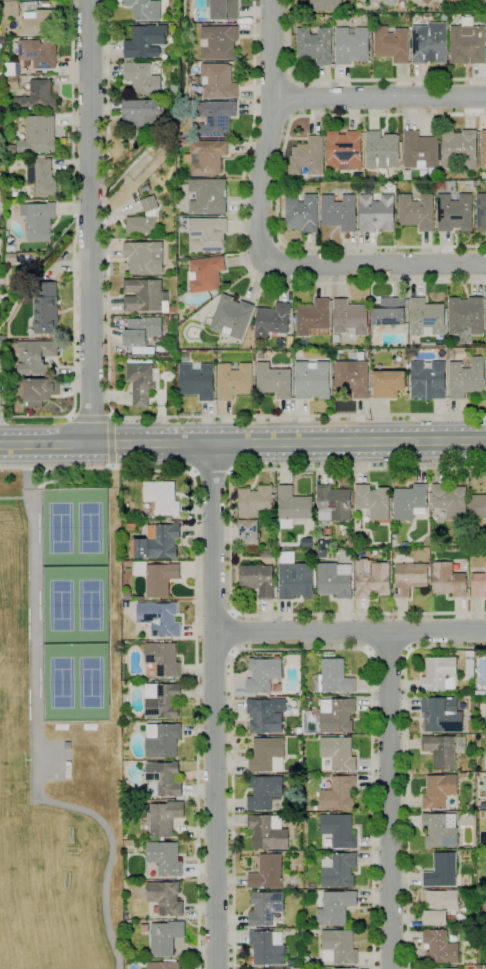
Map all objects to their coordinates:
building: (426, 1)
building: (389, 2)
building: (0, 4)
building: (400, 4)
building: (325, 5)
building: (11, 9)
building: (145, 9)
building: (224, 10)
building: (38, 23)
building: (145, 41)
building: (218, 42)
building: (429, 43)
building: (391, 44)
building: (467, 44)
building: (315, 45)
building: (352, 45)
building: (38, 53)
building: (12, 69)
building: (38, 73)
building: (142, 78)
road: (273, 79)
road: (349, 80)
building: (219, 81)
building: (12, 82)
building: (174, 88)
building: (36, 97)
road: (380, 97)
road: (292, 98)
road: (273, 114)
building: (140, 116)
building: (216, 118)
road: (267, 132)
building: (38, 135)
building: (459, 148)
building: (483, 149)
building: (382, 150)
building: (344, 151)
building: (420, 151)
building: (308, 156)
building: (206, 157)
building: (41, 178)
road: (278, 186)
building: (144, 189)
building: (208, 196)
building: (149, 204)
building: (339, 212)
building: (417, 212)
building: (454, 212)
building: (481, 212)
building: (301, 213)
building: (377, 213)
building: (38, 220)
road: (90, 221)
building: (141, 224)
building: (207, 234)
road: (74, 244)
building: (11, 248)
road: (241, 256)
building: (144, 257)
building: (11, 258)
building: (30, 259)
road: (376, 263)
building: (205, 274)
building: (146, 296)
building: (46, 309)
building: (20, 311)
building: (389, 312)
building: (195, 315)
building: (465, 315)
building: (231, 317)
building: (349, 318)
building: (426, 318)
building: (313, 319)
building: (272, 320)
building: (168, 330)
building: (141, 331)
building: (336, 338)
building: (3, 340)
building: (165, 349)
building: (35, 356)
building: (466, 377)
building: (352, 378)
building: (234, 380)
building: (313, 380)
building: (197, 381)
building: (274, 381)
building: (428, 381)
building: (142, 383)
building: (388, 383)
building: (0, 388)
building: (38, 392)
road: (108, 394)
road: (91, 414)
road: (110, 439)
road: (242, 442)
road: (25, 456)
road: (212, 474)
road: (26, 483)
road: (14, 498)
building: (160, 499)
building: (450, 500)
building: (373, 501)
building: (410, 502)
building: (333, 503)
building: (292, 506)
building: (478, 506)
building: (252, 512)
building: (130, 527)
park: (59, 528)
park: (89, 529)
road: (230, 541)
building: (156, 542)
building: (306, 542)
building: (323, 543)
building: (404, 544)
building: (399, 551)
building: (324, 553)
building: (268, 554)
building: (157, 577)
building: (409, 578)
building: (371, 579)
building: (257, 580)
building: (295, 580)
building: (334, 580)
building: (447, 580)
building: (478, 585)
park: (61, 606)
park: (89, 606)
road: (232, 613)
road: (402, 614)
road: (363, 615)
building: (162, 619)
road: (195, 625)
road: (197, 629)
road: (350, 631)
road: (231, 632)
road: (388, 648)
road: (408, 649)
road: (301, 650)
road: (368, 651)
road: (232, 652)
building: (477, 654)
building: (163, 658)
road: (198, 669)
building: (469, 669)
building: (150, 672)
building: (263, 674)
building: (439, 674)
building: (333, 677)
park: (61, 683)
park: (89, 684)
building: (452, 694)
building: (125, 697)
building: (162, 700)
road: (215, 705)
building: (441, 714)
building: (266, 715)
building: (336, 715)
building: (286, 730)
building: (304, 737)
building: (162, 740)
building: (125, 744)
building: (442, 751)
building: (338, 753)
building: (267, 754)
road: (37, 758)
building: (485, 763)
road: (405, 771)
building: (163, 779)
building: (482, 785)
building: (438, 791)
building: (264, 792)
building: (339, 794)
road: (389, 799)
building: (483, 806)
building: (164, 818)
building: (339, 830)
building: (440, 830)
building: (267, 832)
building: (124, 842)
building: (164, 858)
building: (338, 869)
building: (441, 871)
building: (267, 872)
building: (311, 886)
building: (165, 898)
building: (333, 906)
building: (439, 906)
building: (265, 908)
building: (165, 937)
building: (267, 947)
building: (339, 947)
building: (440, 947)
building: (307, 961)
building: (164, 965)
building: (479, 967)
building: (485, 967)
building: (281, 968)
building: (297, 968)
building: (354, 968)
building: (449, 968)

